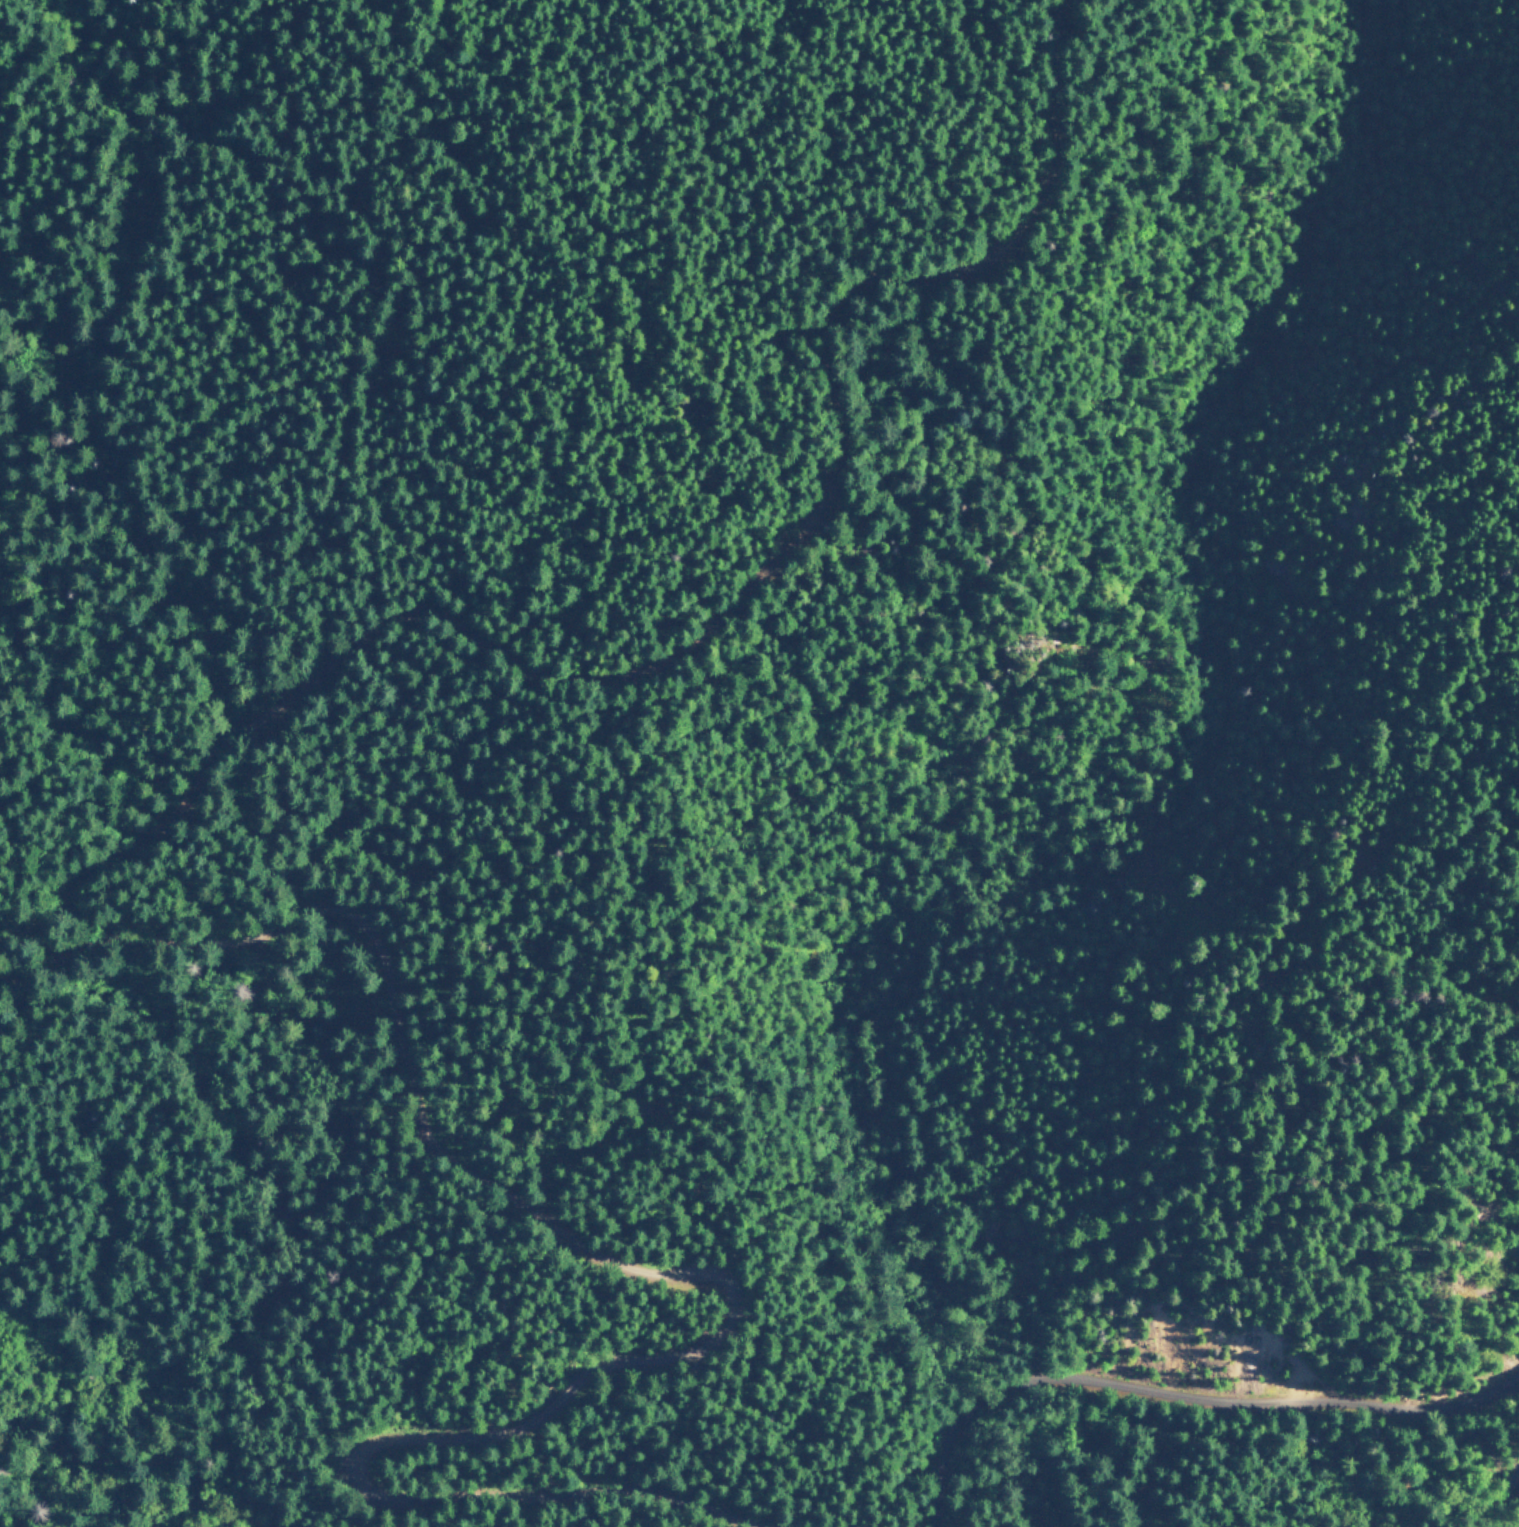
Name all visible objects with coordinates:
road: (683, 627)
road: (1450, 995)
road: (667, 1277)
road: (1185, 1398)

